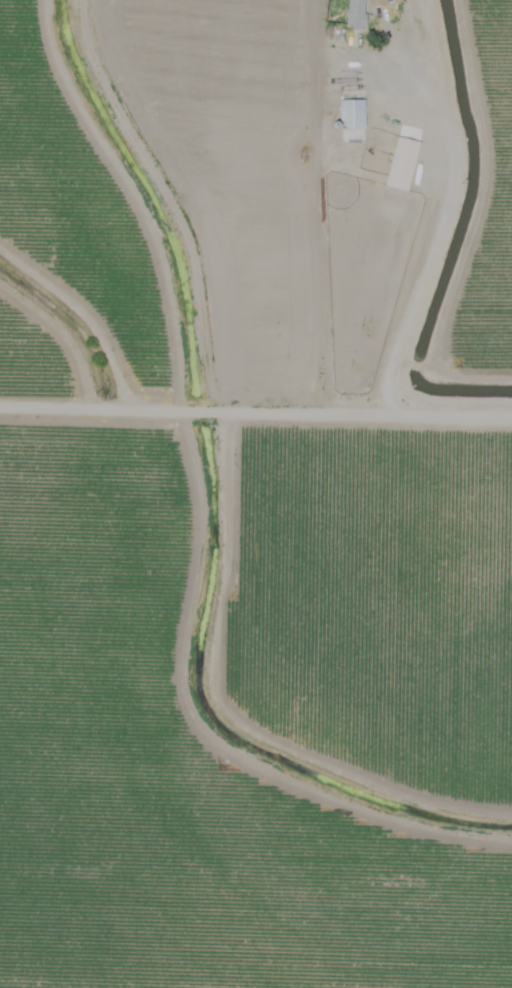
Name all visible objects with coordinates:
building: (378, 3)
building: (355, 14)
building: (351, 113)
building: (401, 163)
road: (436, 229)
road: (79, 322)
road: (255, 416)
crop: (249, 585)

